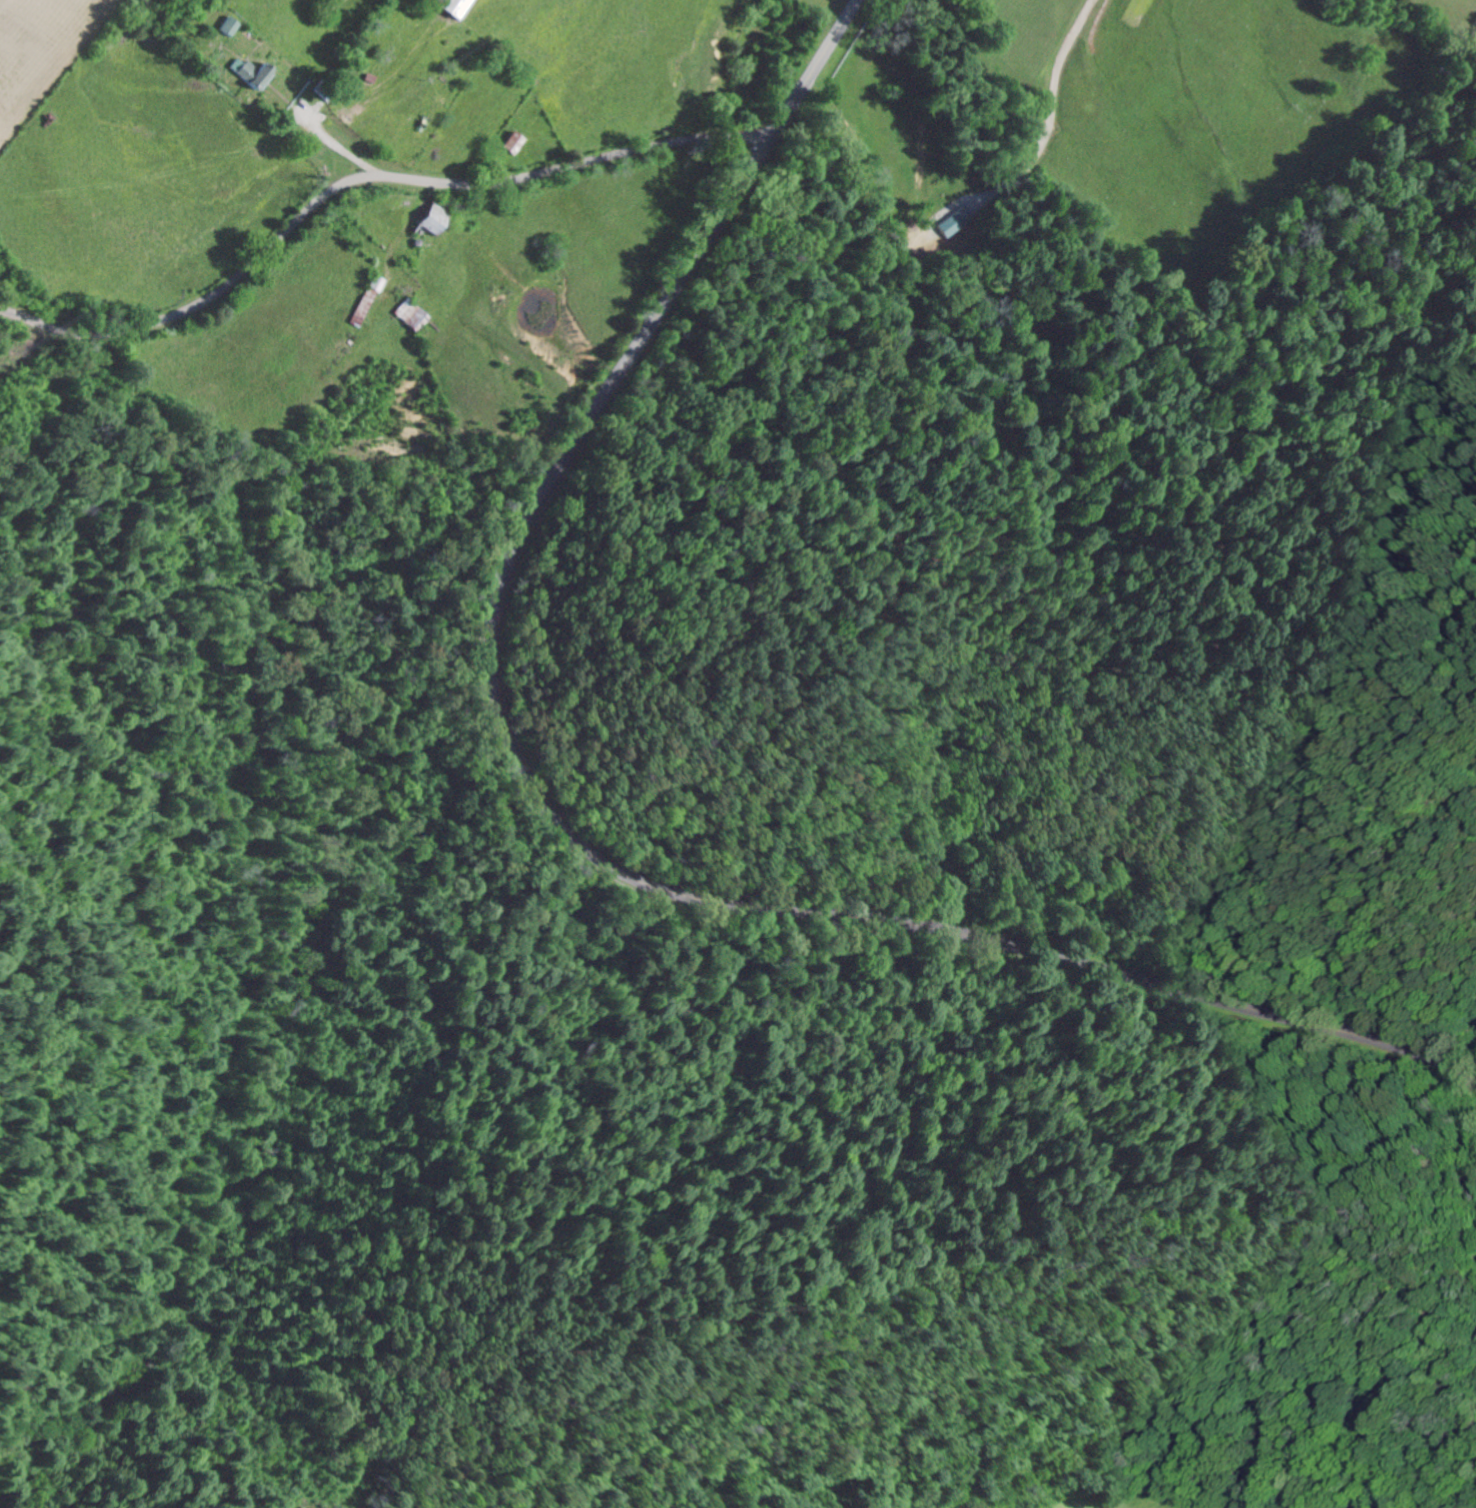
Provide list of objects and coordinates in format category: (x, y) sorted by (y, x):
building: (229, 25)
building: (254, 71)
road: (360, 177)
building: (436, 220)
road: (560, 837)

